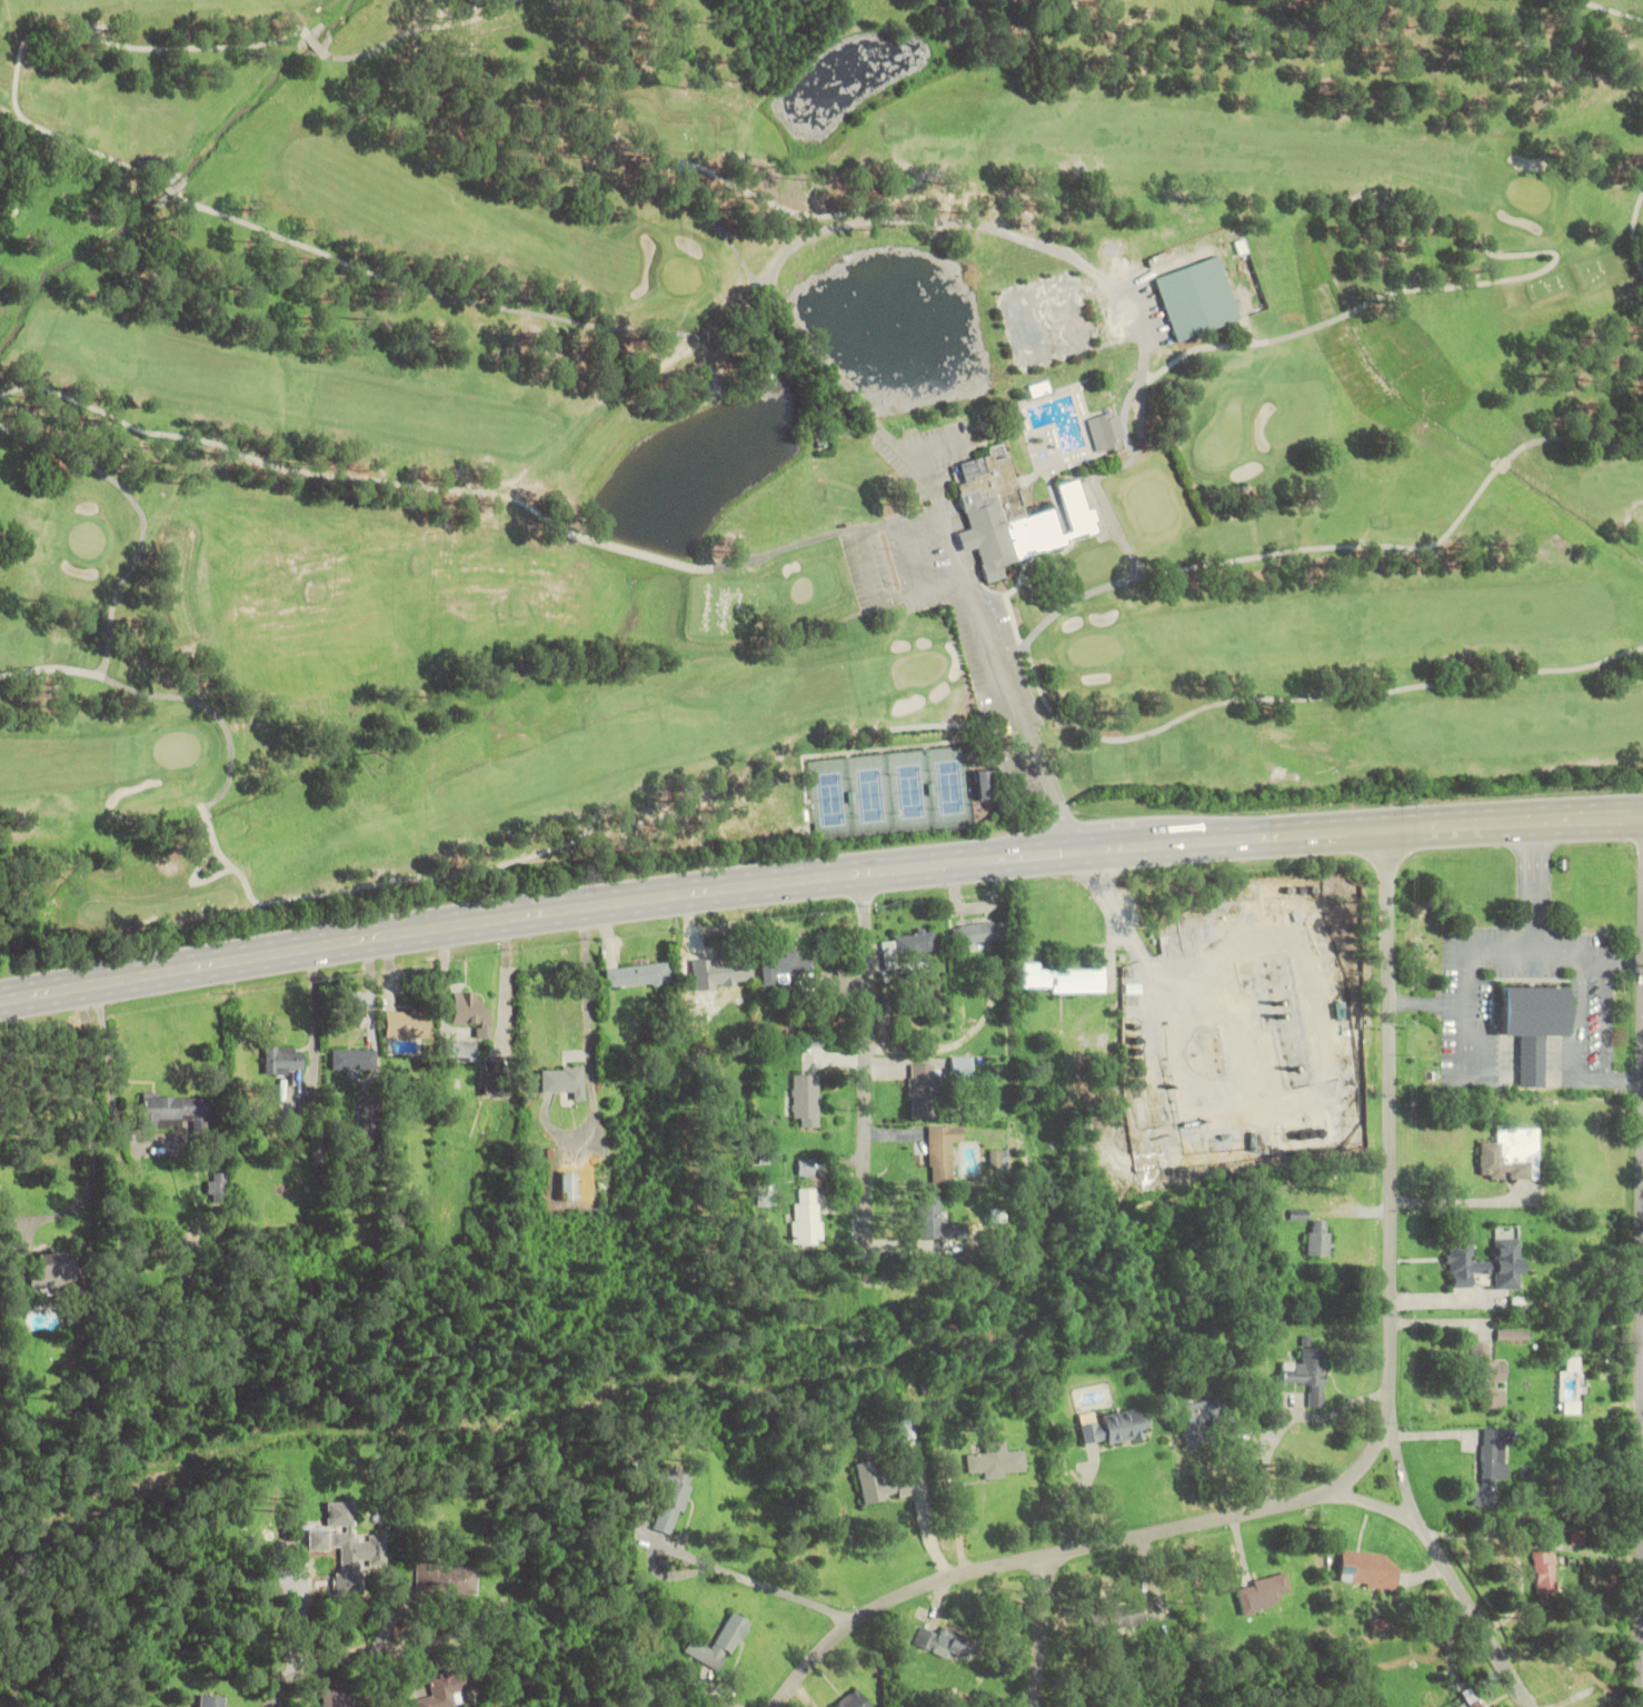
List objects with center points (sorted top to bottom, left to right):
road: (852, 225)
building: (1194, 298)
park: (1046, 320)
building: (1039, 388)
park: (790, 429)
building: (1106, 430)
road: (937, 444)
park: (1167, 494)
park: (1136, 509)
building: (1012, 515)
road: (913, 554)
road: (870, 566)
building: (985, 784)
park: (890, 793)
road: (818, 875)
building: (977, 932)
building: (909, 944)
building: (785, 966)
building: (697, 971)
building: (729, 972)
building: (637, 975)
building: (1063, 979)
building: (472, 1012)
building: (407, 1024)
building: (1530, 1025)
building: (457, 1049)
building: (283, 1059)
building: (352, 1059)
building: (962, 1065)
building: (564, 1080)
road: (867, 1084)
building: (922, 1090)
building: (805, 1099)
building: (175, 1111)
road: (104, 1133)
building: (942, 1152)
building: (1510, 1154)
building: (998, 1158)
building: (807, 1167)
building: (567, 1185)
road: (1352, 1212)
building: (806, 1217)
building: (934, 1220)
building: (1318, 1238)
building: (1463, 1260)
building: (1508, 1262)
building: (51, 1271)
road: (1392, 1317)
building: (1307, 1373)
building: (1490, 1378)
road: (1642, 1408)
building: (1202, 1418)
building: (907, 1426)
building: (1114, 1427)
building: (996, 1462)
road: (1401, 1475)
building: (882, 1482)
building: (1490, 1483)
building: (1593, 1483)
road: (1640, 1492)
building: (666, 1496)
road: (1370, 1503)
building: (347, 1546)
building: (1365, 1570)
building: (1543, 1571)
building: (446, 1580)
building: (1262, 1592)
road: (890, 1600)
road: (1473, 1615)
building: (1117, 1617)
road: (1040, 1631)
building: (718, 1644)
building: (947, 1645)
road: (359, 1651)
building: (1575, 1669)
building: (445, 1688)
building: (339, 1697)
building: (212, 1700)
building: (849, 1700)

